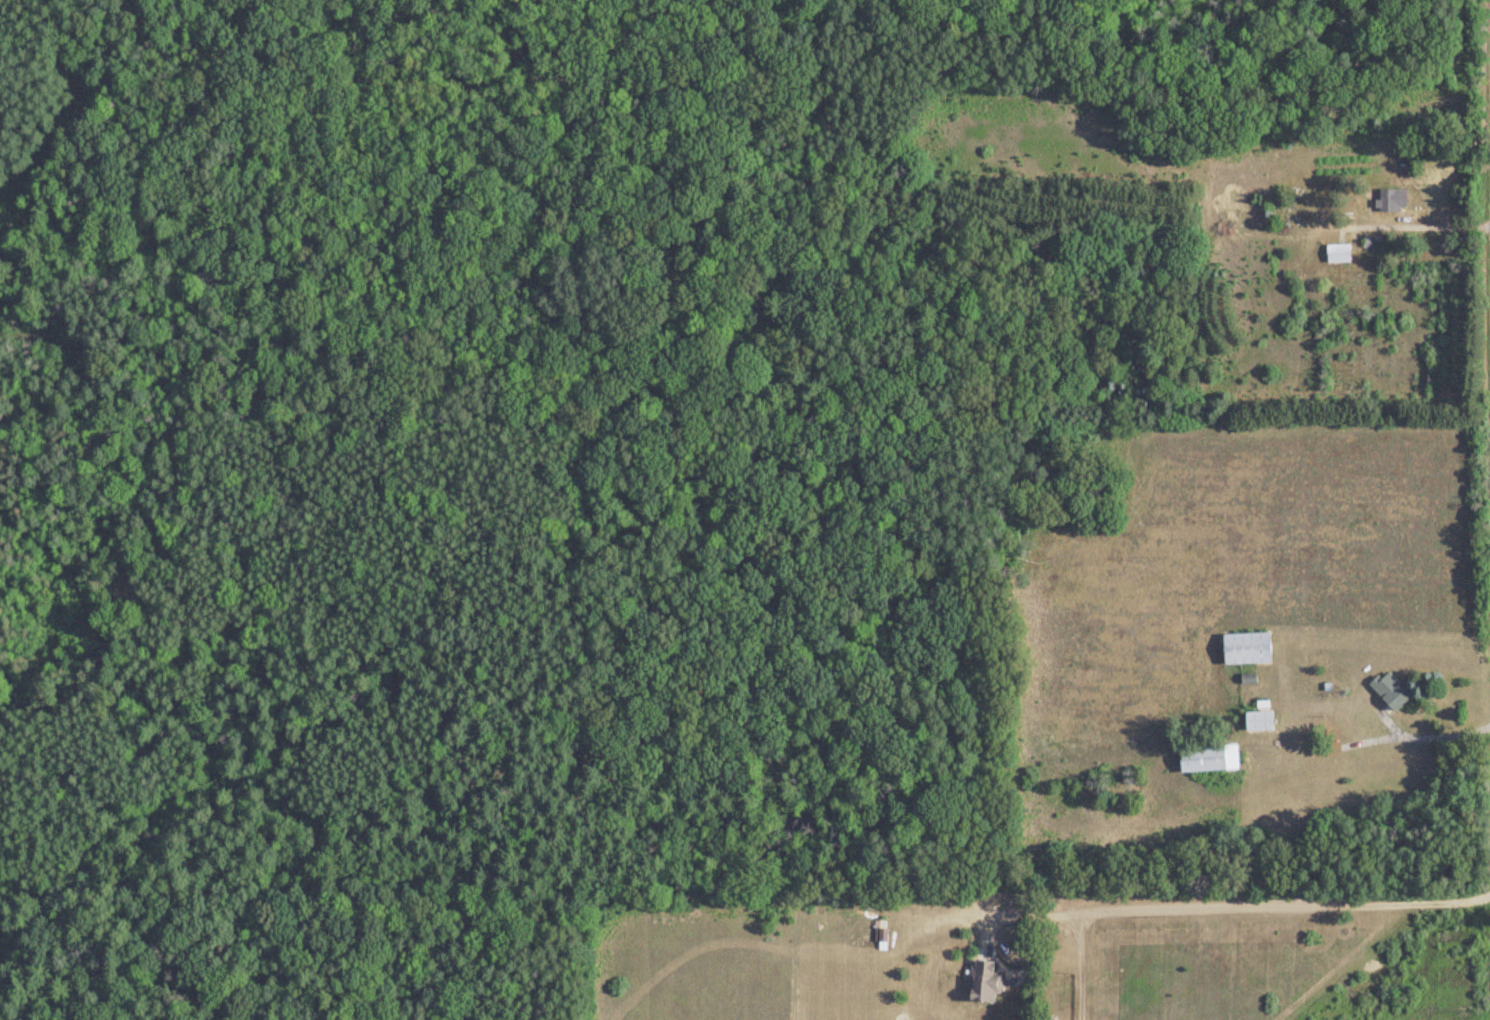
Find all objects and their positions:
building: (1390, 200)
building: (1336, 254)
building: (1244, 650)
building: (1389, 692)
building: (1257, 722)
road: (1361, 743)
building: (1206, 759)
road: (1241, 904)
building: (877, 933)
road: (1351, 958)
road: (105, 960)
building: (981, 982)

